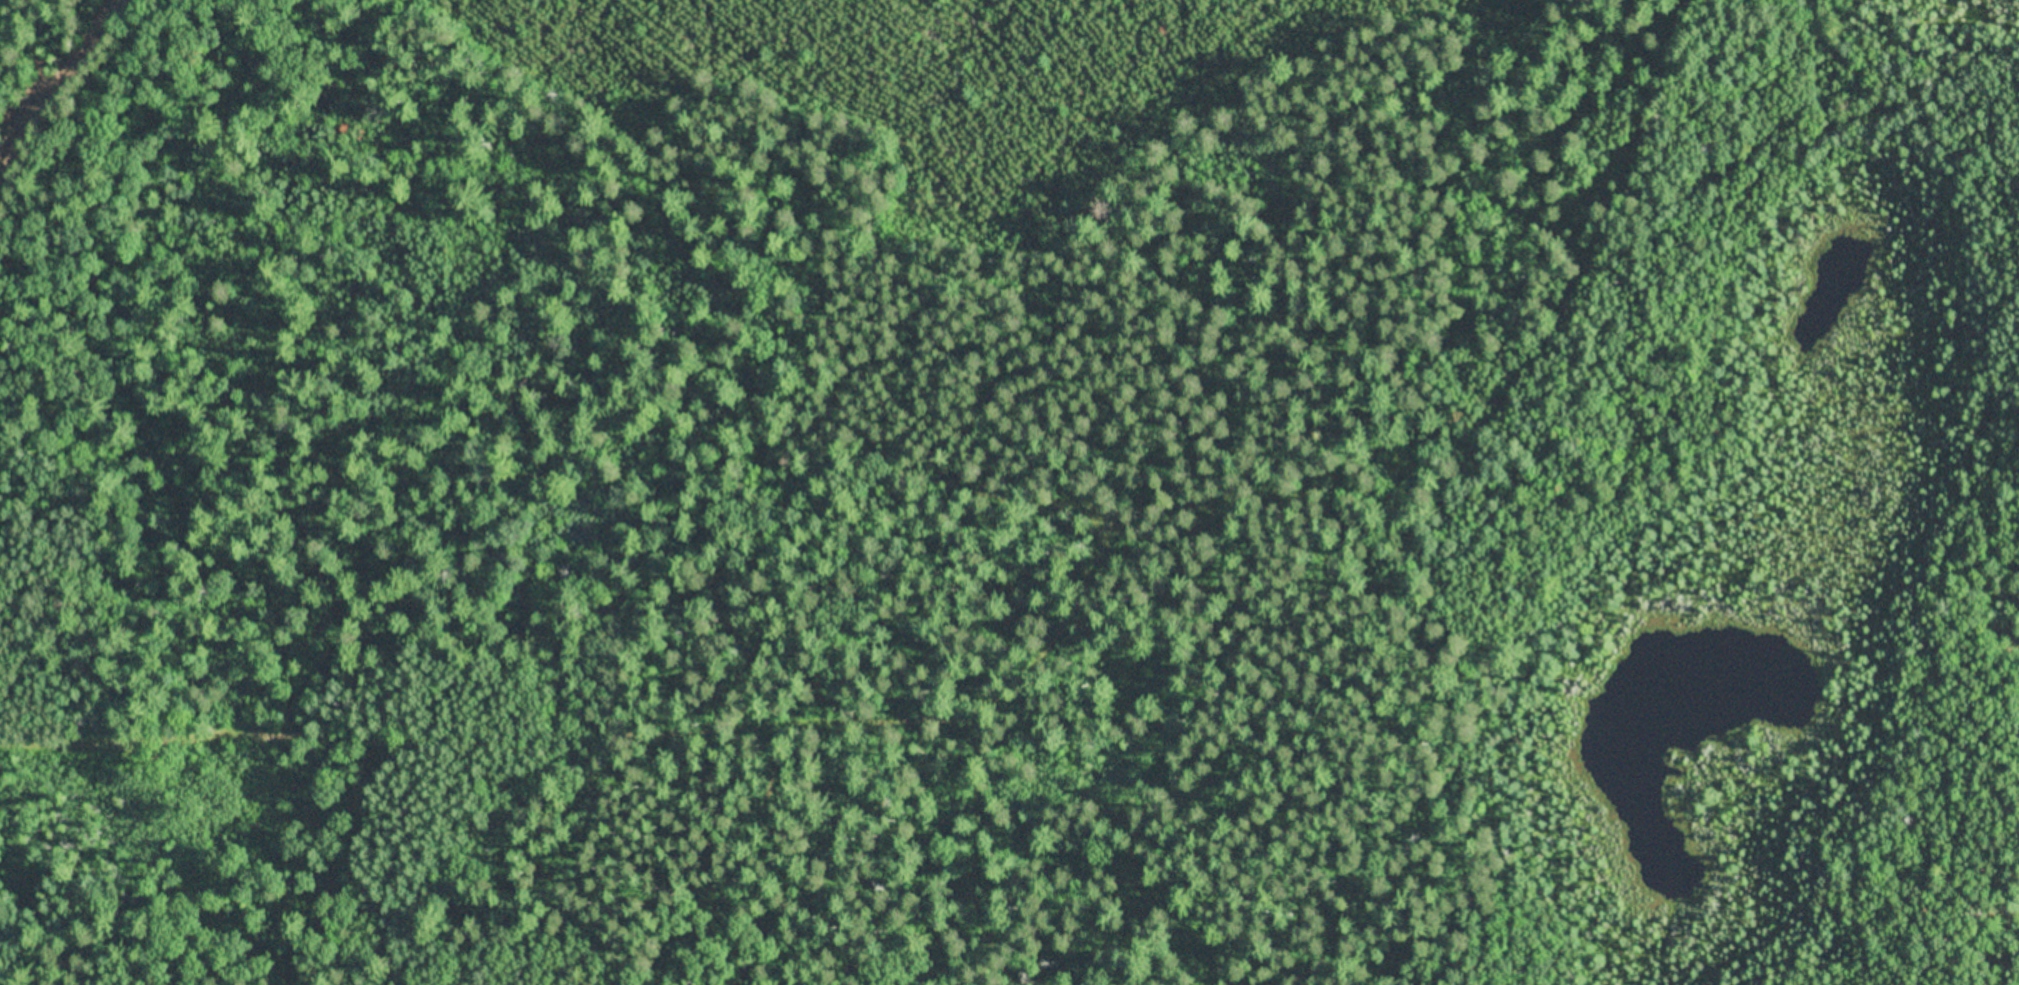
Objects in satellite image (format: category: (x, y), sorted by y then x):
road: (42, 97)

